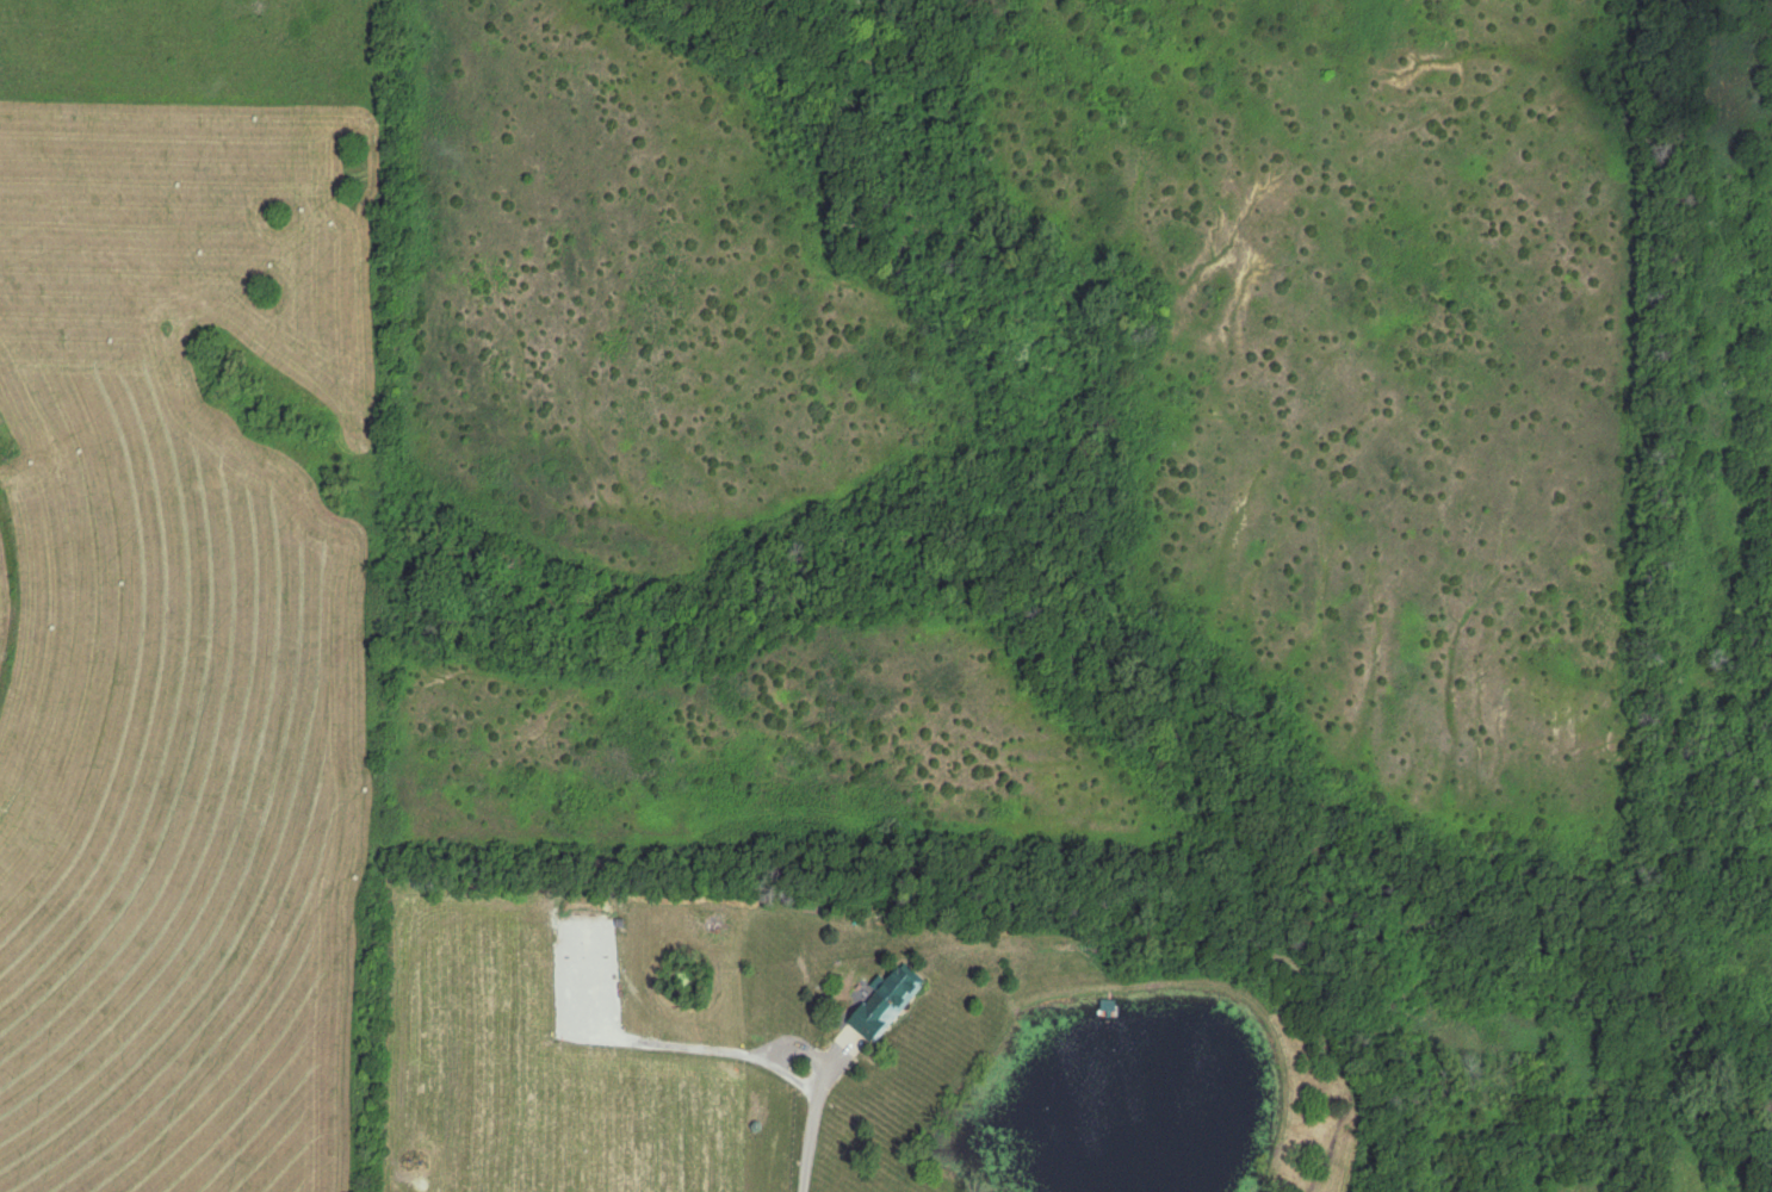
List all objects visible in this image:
building: (885, 1001)
road: (813, 1115)

